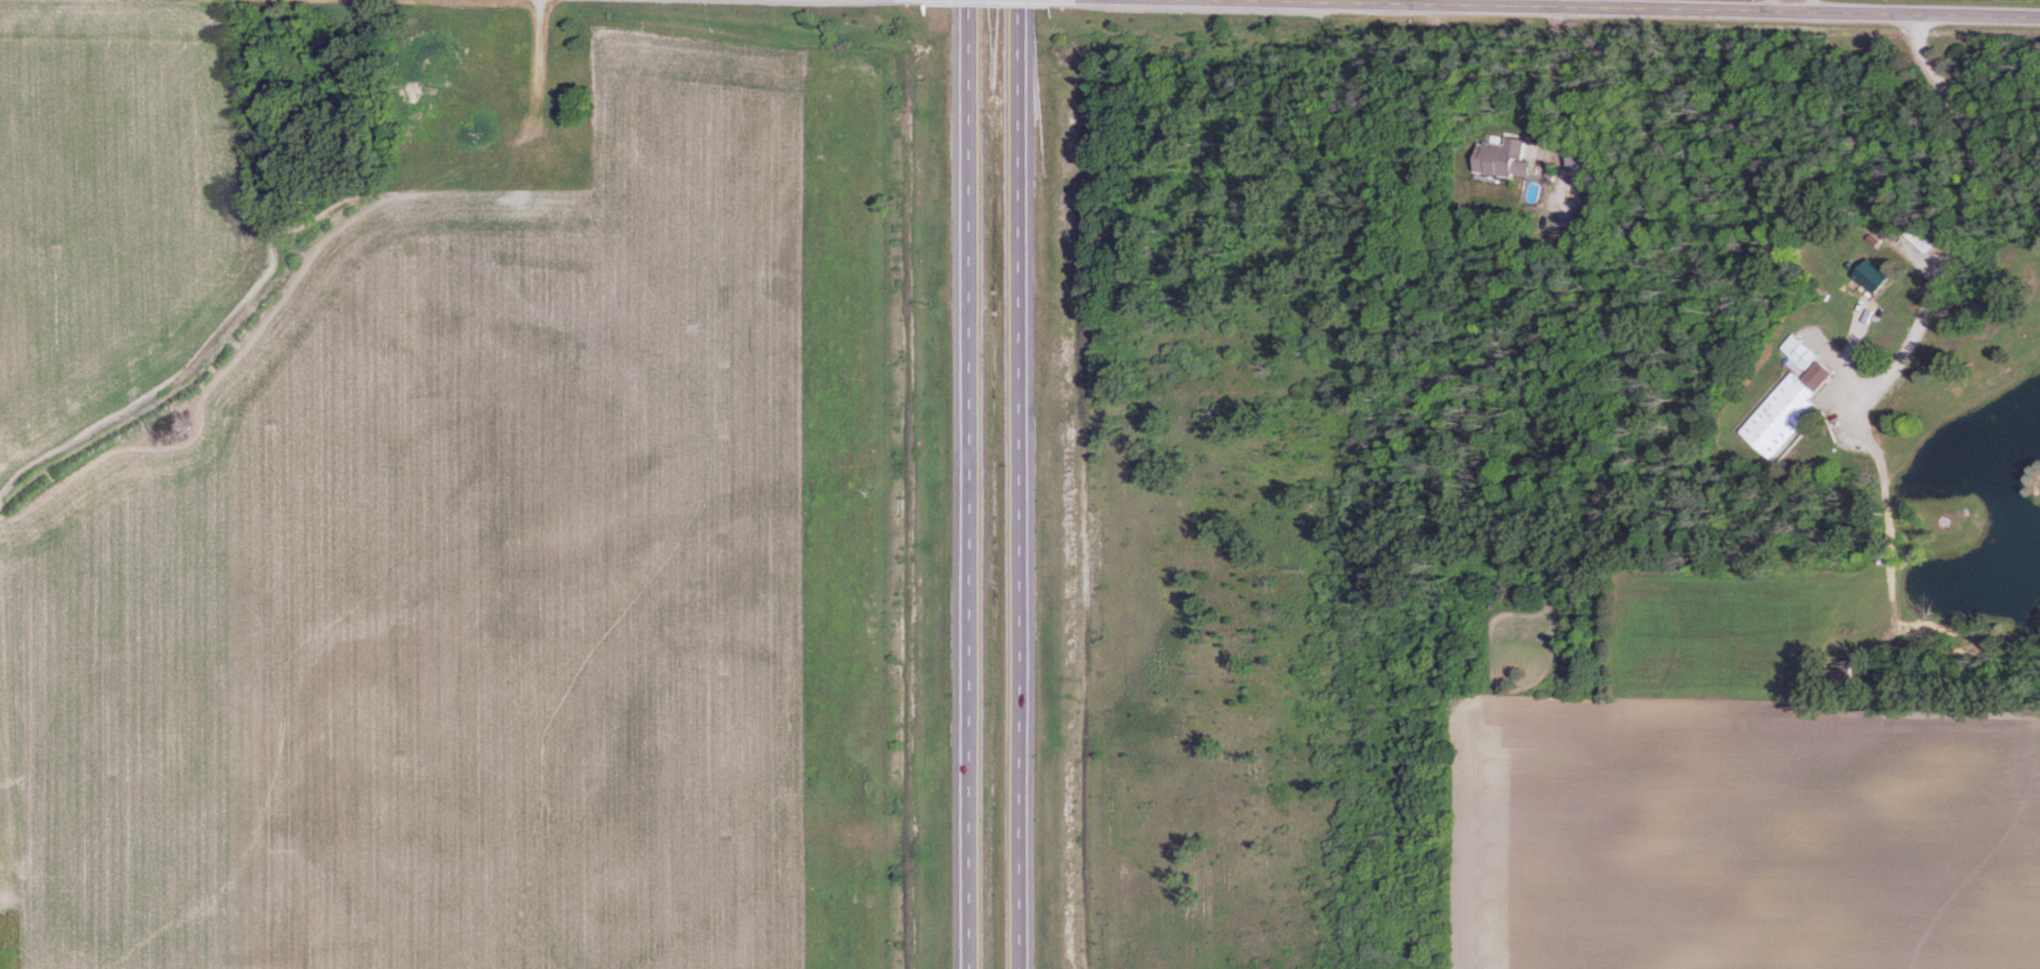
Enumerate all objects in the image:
road: (1371, 2)
road: (1789, 7)
road: (1608, 9)
road: (1554, 79)
building: (1504, 159)
crop: (114, 203)
building: (1922, 240)
road: (1949, 243)
building: (1877, 278)
building: (1790, 401)
road: (970, 484)
road: (1019, 484)
crop: (837, 511)
crop: (441, 586)
crop: (1740, 837)
crop: (7, 942)

